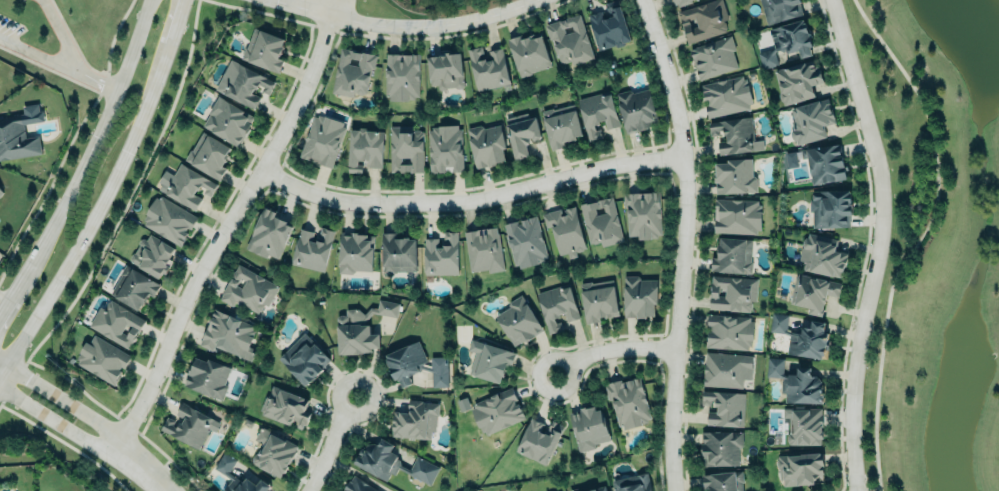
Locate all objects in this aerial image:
building: (680, 1)
building: (778, 9)
building: (702, 20)
road: (174, 26)
building: (609, 26)
road: (402, 27)
road: (59, 34)
road: (384, 38)
building: (569, 38)
building: (785, 40)
building: (264, 49)
building: (528, 52)
building: (713, 57)
road: (57, 63)
building: (487, 67)
building: (445, 69)
building: (352, 70)
building: (401, 77)
building: (796, 80)
building: (243, 84)
building: (725, 95)
building: (635, 108)
building: (597, 112)
building: (227, 119)
building: (810, 120)
building: (560, 125)
building: (521, 132)
building: (735, 135)
building: (16, 138)
building: (322, 139)
building: (486, 145)
building: (364, 148)
building: (405, 149)
building: (444, 149)
building: (208, 155)
road: (85, 159)
building: (790, 159)
building: (824, 162)
building: (734, 175)
building: (188, 184)
road: (47, 189)
building: (0, 191)
road: (129, 197)
road: (470, 200)
building: (830, 207)
building: (643, 213)
road: (92, 216)
building: (736, 216)
building: (168, 218)
building: (601, 220)
road: (227, 225)
building: (565, 229)
building: (268, 235)
road: (920, 238)
building: (524, 241)
road: (682, 242)
road: (878, 243)
building: (311, 248)
building: (483, 249)
building: (355, 252)
building: (397, 252)
building: (441, 254)
building: (732, 254)
building: (821, 254)
building: (152, 255)
building: (133, 286)
building: (247, 288)
building: (812, 291)
building: (732, 293)
building: (639, 296)
road: (2, 298)
building: (598, 299)
building: (556, 305)
building: (517, 321)
building: (115, 322)
building: (778, 323)
building: (361, 328)
building: (728, 331)
building: (227, 333)
building: (808, 341)
road: (610, 350)
building: (102, 357)
building: (304, 359)
building: (490, 360)
building: (415, 364)
building: (726, 369)
building: (207, 377)
building: (795, 383)
road: (1, 396)
road: (63, 402)
building: (628, 403)
building: (285, 407)
building: (724, 408)
building: (496, 411)
road: (116, 418)
building: (414, 419)
road: (57, 425)
building: (189, 425)
building: (803, 425)
building: (588, 426)
building: (539, 440)
road: (65, 444)
road: (331, 445)
building: (720, 448)
building: (272, 452)
building: (390, 461)
building: (799, 467)
road: (142, 469)
building: (235, 476)
building: (722, 480)
building: (632, 483)
building: (357, 485)
building: (597, 488)
building: (573, 489)

